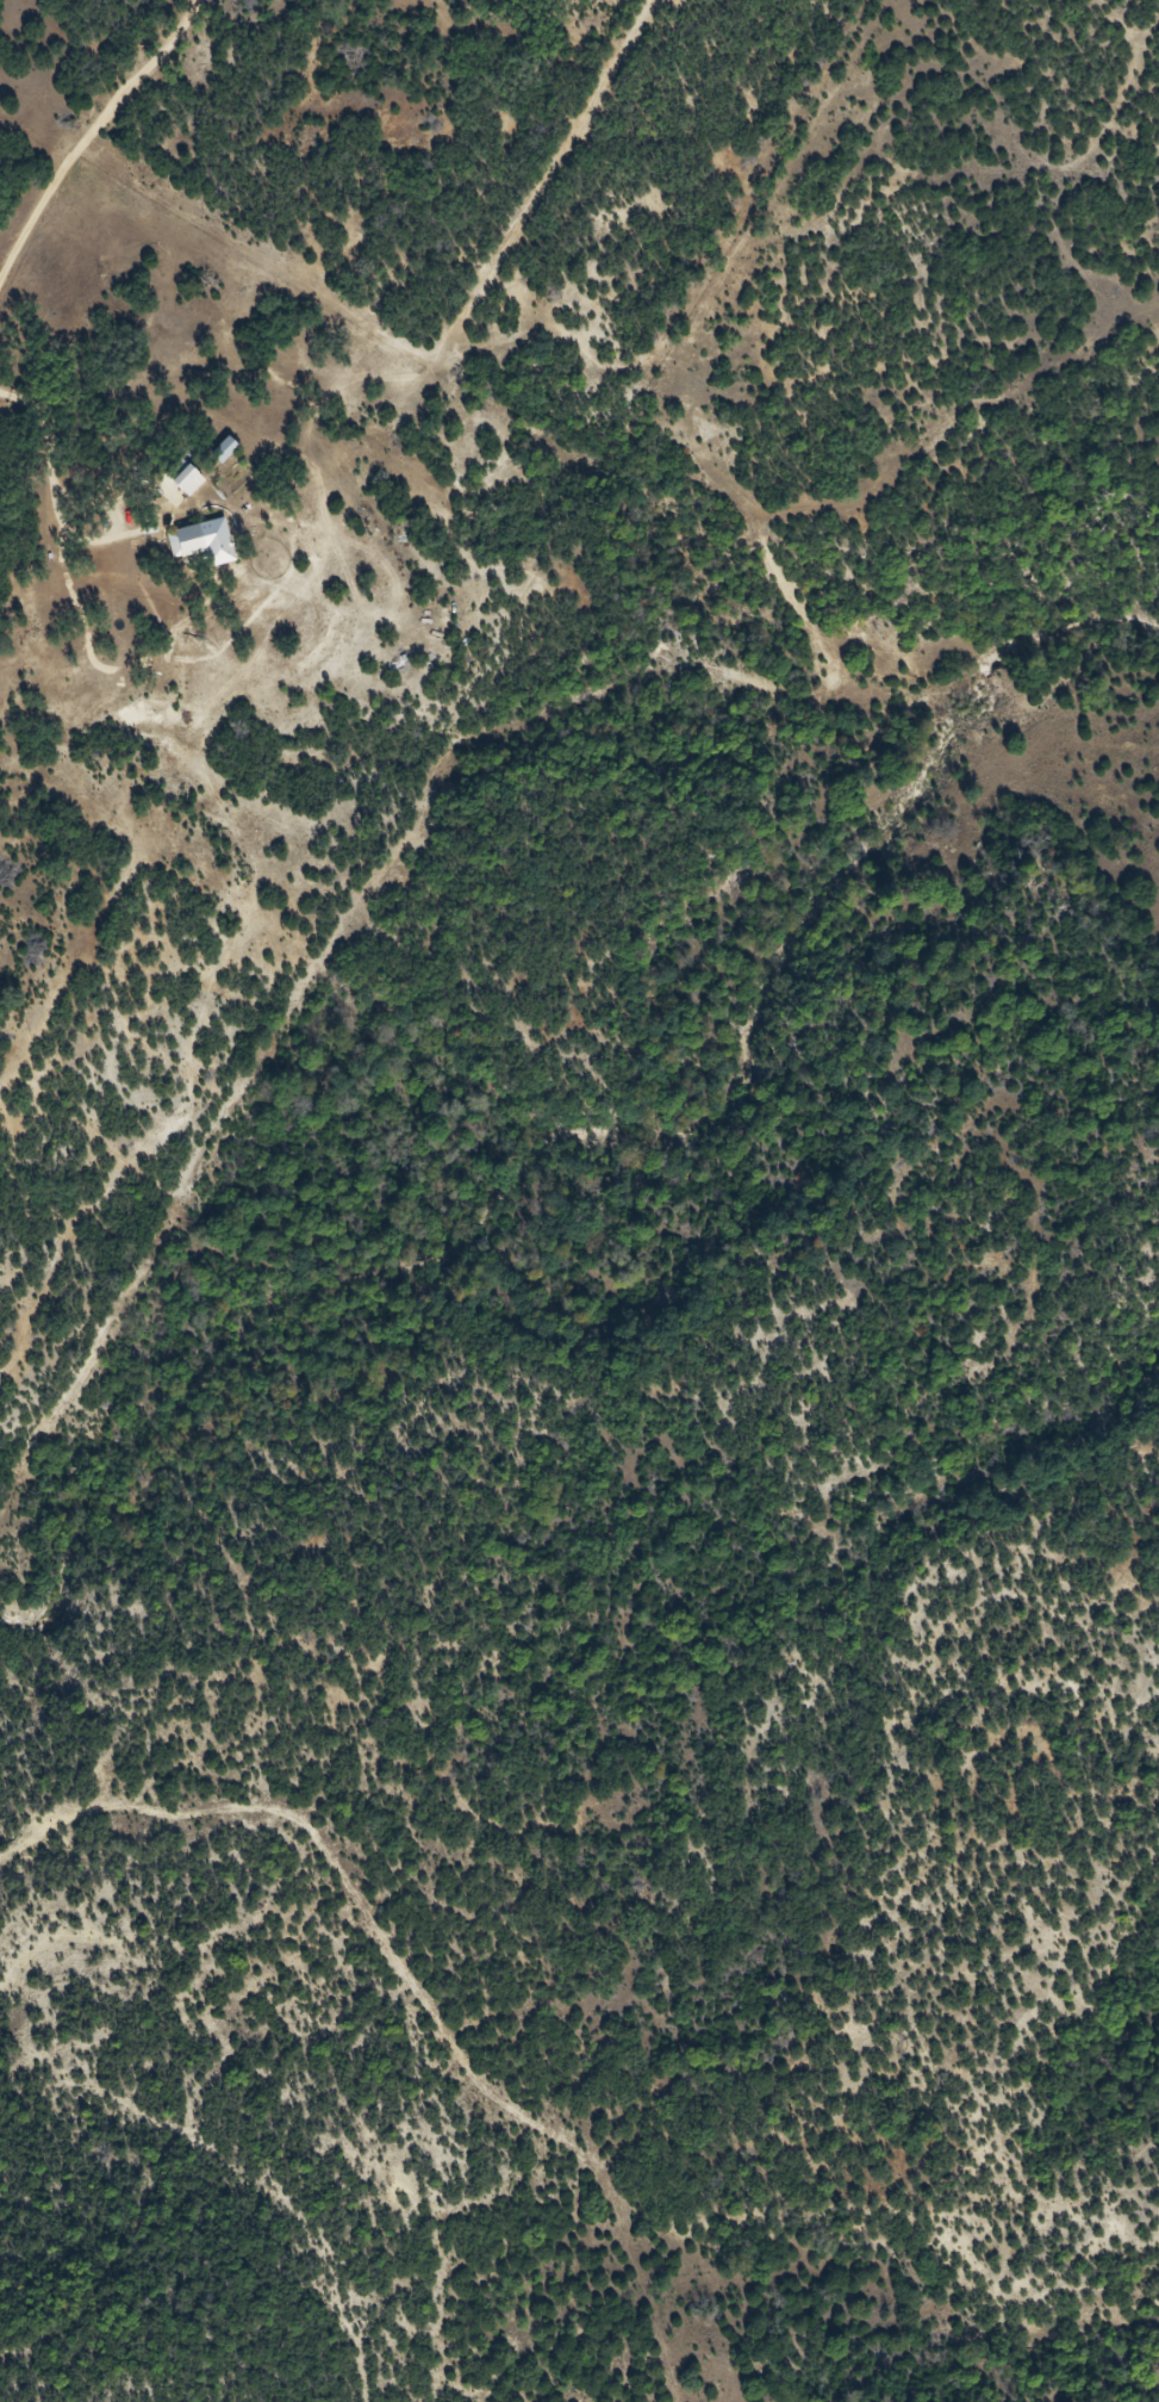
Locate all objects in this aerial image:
road: (92, 132)
building: (173, 485)
building: (175, 550)

